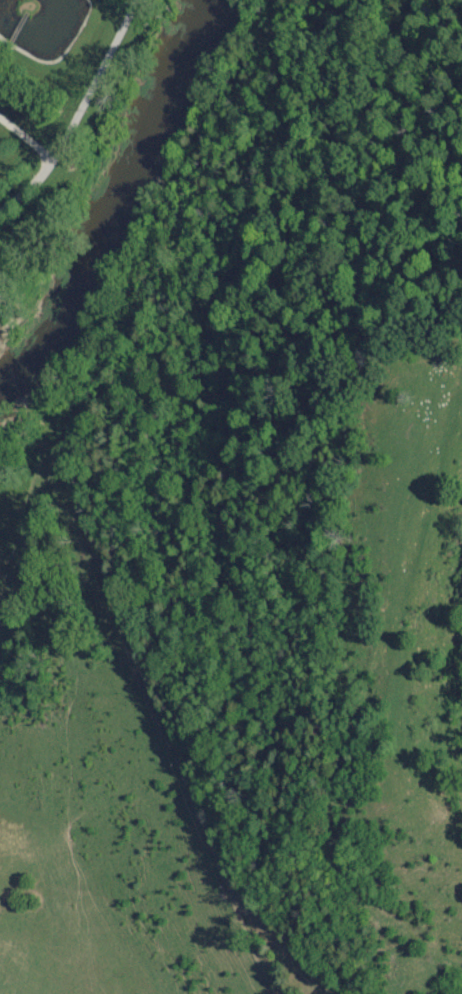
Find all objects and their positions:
road: (77, 112)
road: (26, 133)

